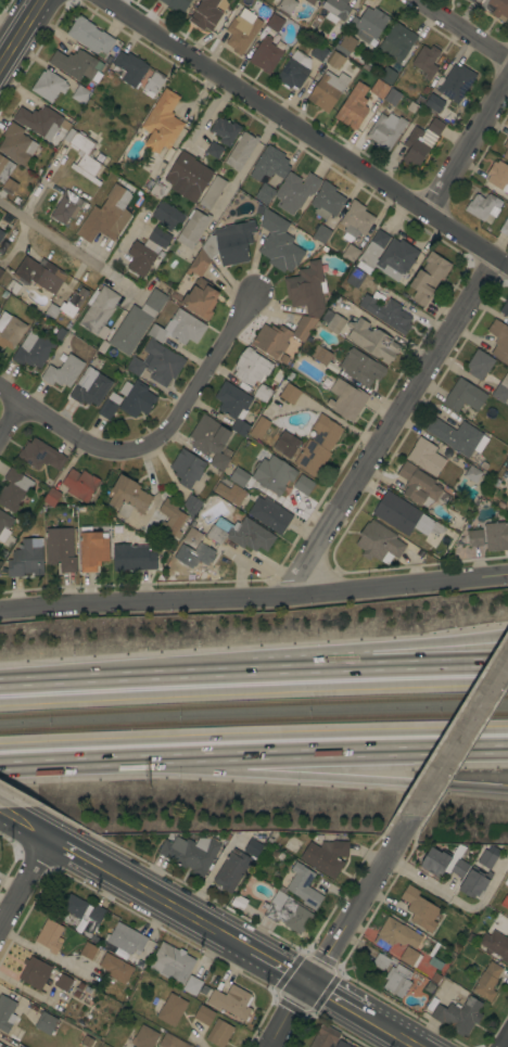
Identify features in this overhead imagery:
building: (316, 0)
building: (472, 0)
building: (309, 1)
building: (176, 3)
building: (285, 7)
building: (496, 8)
building: (335, 10)
building: (204, 14)
building: (276, 21)
building: (369, 24)
road: (462, 29)
road: (20, 30)
building: (241, 33)
building: (89, 36)
building: (396, 42)
building: (345, 44)
building: (319, 52)
building: (265, 54)
building: (334, 60)
building: (426, 61)
building: (77, 65)
building: (128, 68)
building: (294, 69)
building: (388, 76)
building: (456, 82)
building: (153, 84)
building: (49, 86)
building: (379, 89)
building: (327, 90)
building: (80, 94)
building: (392, 97)
building: (434, 102)
building: (353, 106)
building: (39, 122)
building: (162, 124)
building: (385, 129)
building: (225, 130)
road: (301, 138)
building: (420, 142)
building: (16, 144)
road: (467, 148)
building: (506, 148)
building: (214, 150)
building: (241, 151)
building: (84, 155)
building: (269, 164)
building: (4, 168)
building: (188, 175)
building: (498, 176)
road: (234, 183)
building: (9, 187)
building: (295, 191)
building: (212, 193)
building: (264, 193)
building: (327, 201)
building: (483, 206)
building: (66, 207)
building: (166, 215)
building: (106, 216)
building: (355, 220)
building: (505, 227)
building: (192, 228)
building: (1, 234)
building: (321, 234)
building: (160, 238)
building: (278, 241)
building: (224, 246)
road: (72, 248)
building: (350, 253)
building: (388, 256)
building: (140, 258)
building: (1, 271)
building: (39, 273)
building: (355, 278)
building: (428, 278)
building: (306, 295)
building: (200, 298)
building: (67, 304)
building: (505, 307)
building: (98, 309)
building: (386, 312)
building: (136, 322)
building: (335, 323)
building: (178, 328)
building: (10, 330)
building: (271, 340)
building: (372, 341)
building: (499, 341)
building: (33, 349)
building: (320, 355)
building: (156, 363)
building: (479, 363)
building: (251, 367)
building: (360, 367)
building: (63, 371)
building: (90, 387)
building: (486, 387)
building: (501, 390)
building: (262, 393)
building: (289, 394)
building: (463, 395)
building: (136, 398)
building: (346, 399)
building: (109, 406)
building: (233, 406)
road: (396, 423)
road: (13, 427)
building: (259, 427)
road: (155, 435)
building: (457, 436)
building: (209, 439)
building: (285, 444)
building: (318, 445)
building: (40, 455)
building: (426, 456)
building: (507, 465)
building: (187, 468)
building: (472, 473)
building: (272, 474)
building: (238, 476)
building: (79, 484)
building: (303, 485)
building: (420, 485)
building: (507, 488)
building: (13, 489)
building: (230, 493)
building: (128, 495)
building: (51, 497)
building: (191, 505)
building: (269, 514)
building: (405, 515)
building: (172, 518)
building: (4, 525)
building: (241, 534)
building: (496, 536)
building: (192, 537)
building: (474, 538)
building: (379, 542)
building: (60, 549)
building: (91, 549)
building: (203, 553)
building: (26, 558)
building: (131, 558)
road: (254, 588)
road: (424, 646)
road: (426, 668)
road: (269, 675)
road: (97, 684)
railway: (253, 703)
railway: (253, 720)
road: (460, 739)
road: (320, 746)
road: (67, 758)
road: (320, 779)
road: (0, 805)
road: (28, 821)
building: (253, 847)
building: (190, 853)
road: (82, 854)
building: (326, 856)
building: (488, 857)
building: (435, 861)
building: (459, 868)
building: (231, 870)
building: (474, 882)
road: (27, 884)
building: (303, 885)
road: (361, 902)
building: (505, 902)
building: (74, 906)
building: (419, 908)
road: (178, 909)
building: (287, 912)
building: (97, 914)
building: (396, 934)
building: (49, 936)
building: (126, 939)
building: (496, 945)
building: (88, 950)
road: (46, 955)
building: (381, 961)
building: (420, 961)
building: (172, 962)
building: (115, 968)
road: (278, 968)
building: (34, 972)
building: (397, 980)
building: (487, 981)
building: (62, 982)
building: (191, 985)
building: (231, 1001)
road: (338, 1001)
building: (172, 1009)
building: (7, 1013)
building: (204, 1014)
building: (458, 1016)
road: (292, 1017)
building: (46, 1022)
road: (388, 1031)
building: (218, 1033)
building: (143, 1037)
building: (327, 1038)
building: (86, 1040)
building: (172, 1042)
road: (506, 1043)
road: (412, 1045)
building: (1, 1046)

